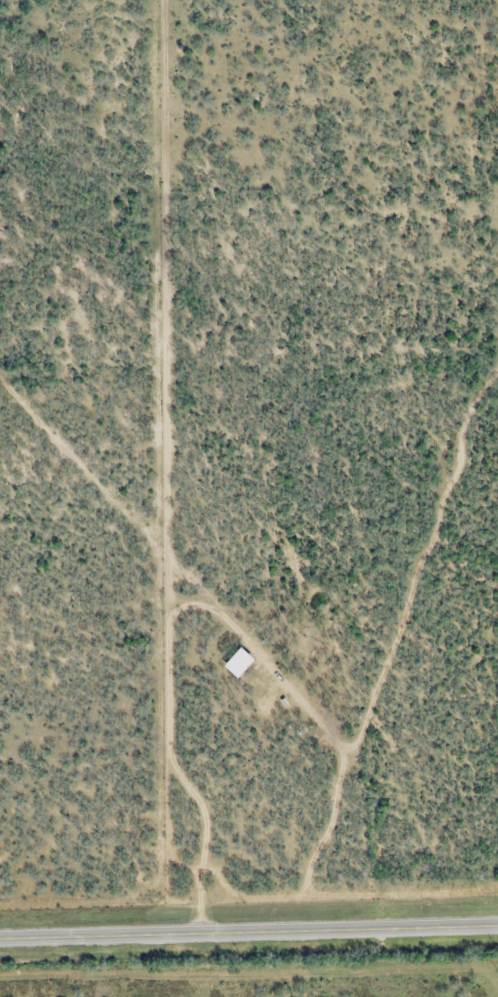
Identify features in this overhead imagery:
road: (249, 931)

